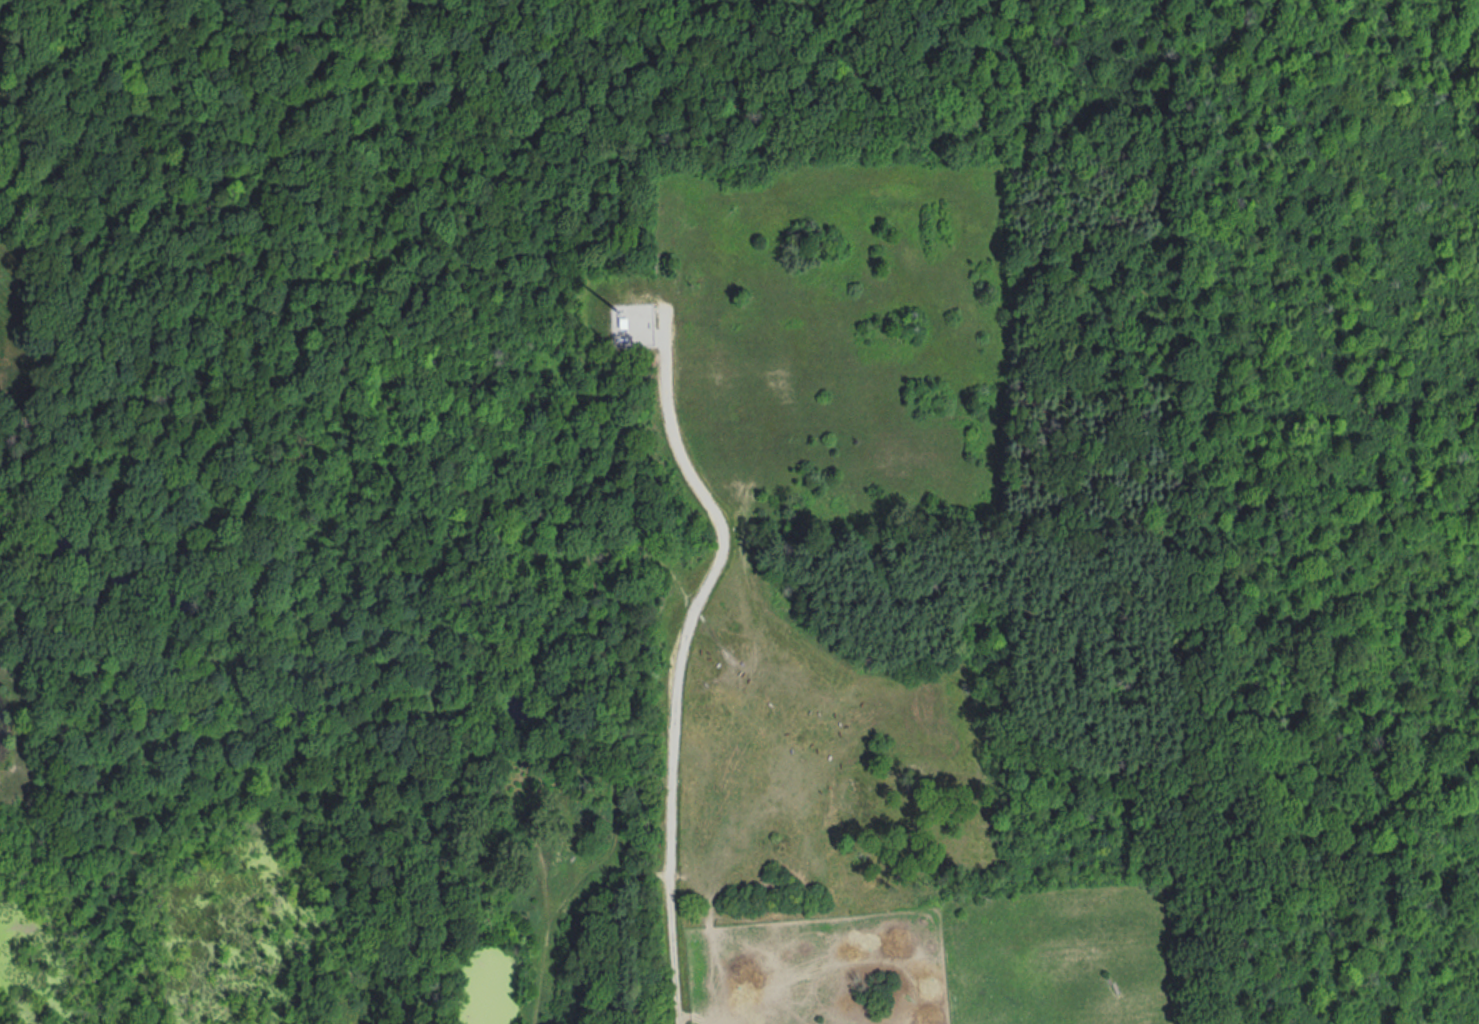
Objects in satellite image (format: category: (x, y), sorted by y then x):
road: (686, 663)

